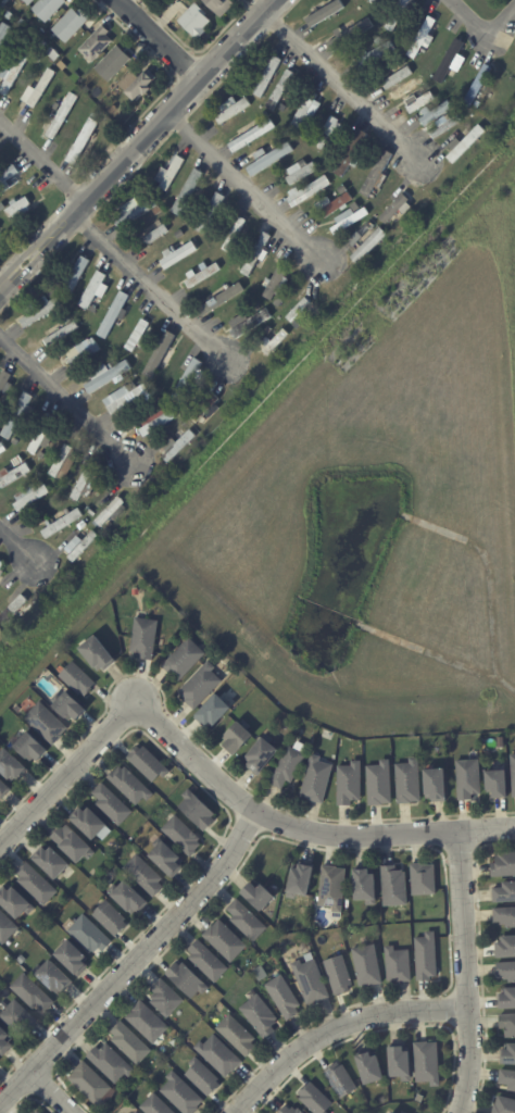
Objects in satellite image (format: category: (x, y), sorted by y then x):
building: (5, 1)
building: (29, 1)
building: (328, 1)
building: (380, 2)
building: (221, 5)
building: (48, 8)
building: (326, 13)
building: (402, 13)
building: (1, 16)
road: (466, 20)
building: (194, 21)
building: (23, 22)
building: (71, 25)
road: (501, 25)
building: (3, 32)
building: (351, 35)
building: (423, 37)
road: (158, 39)
building: (45, 43)
building: (17, 45)
building: (97, 45)
building: (53, 54)
building: (375, 55)
building: (450, 58)
building: (113, 63)
building: (14, 73)
building: (267, 75)
building: (399, 75)
building: (257, 79)
building: (95, 80)
building: (139, 85)
road: (342, 85)
building: (478, 86)
building: (38, 89)
building: (281, 91)
building: (407, 91)
building: (114, 98)
building: (419, 102)
building: (101, 104)
building: (442, 109)
building: (230, 110)
building: (302, 113)
building: (61, 116)
building: (445, 127)
building: (329, 132)
building: (254, 134)
building: (84, 142)
road: (136, 142)
building: (279, 143)
building: (467, 143)
building: (351, 154)
building: (269, 159)
road: (41, 160)
building: (301, 172)
building: (377, 173)
building: (8, 174)
building: (172, 174)
road: (247, 185)
building: (343, 190)
building: (189, 191)
building: (310, 192)
building: (378, 198)
building: (142, 199)
building: (334, 205)
building: (401, 205)
building: (18, 207)
building: (136, 212)
building: (211, 213)
building: (351, 222)
building: (129, 230)
building: (114, 232)
building: (156, 232)
building: (180, 235)
building: (235, 235)
building: (355, 239)
building: (369, 246)
building: (178, 254)
building: (256, 254)
building: (75, 275)
building: (201, 275)
building: (277, 285)
road: (149, 286)
building: (92, 289)
building: (51, 292)
building: (222, 299)
building: (40, 309)
building: (299, 309)
building: (114, 315)
building: (121, 322)
building: (250, 323)
building: (297, 327)
building: (269, 330)
building: (63, 333)
building: (140, 335)
building: (274, 343)
building: (83, 353)
building: (164, 353)
building: (112, 363)
building: (108, 373)
building: (129, 373)
building: (188, 378)
building: (4, 379)
building: (130, 392)
road: (63, 398)
building: (208, 407)
building: (17, 414)
building: (156, 420)
building: (184, 421)
building: (45, 432)
building: (15, 440)
building: (177, 445)
building: (2, 447)
building: (17, 460)
building: (61, 460)
building: (13, 474)
building: (63, 475)
building: (39, 483)
building: (85, 485)
building: (29, 495)
building: (111, 511)
building: (64, 522)
building: (81, 545)
road: (18, 549)
building: (1, 564)
building: (1, 571)
building: (13, 609)
building: (145, 634)
building: (100, 652)
building: (184, 656)
building: (78, 676)
building: (201, 683)
building: (68, 704)
building: (212, 710)
building: (47, 721)
building: (304, 724)
building: (237, 735)
building: (33, 746)
building: (262, 752)
building: (148, 761)
building: (12, 764)
building: (289, 765)
building: (514, 766)
building: (469, 776)
building: (317, 777)
road: (217, 779)
building: (410, 779)
building: (350, 780)
building: (380, 781)
building: (437, 781)
building: (498, 783)
building: (130, 784)
building: (3, 787)
building: (112, 802)
building: (199, 810)
building: (89, 821)
building: (183, 833)
building: (133, 837)
building: (74, 842)
building: (168, 858)
building: (51, 861)
building: (504, 863)
building: (145, 873)
building: (424, 877)
building: (299, 879)
building: (37, 881)
building: (395, 884)
building: (78, 885)
building: (364, 885)
building: (331, 886)
building: (505, 890)
building: (257, 892)
building: (130, 897)
building: (15, 899)
building: (506, 914)
building: (111, 916)
building: (247, 918)
building: (7, 926)
building: (90, 933)
building: (226, 938)
building: (0, 946)
building: (506, 946)
building: (427, 954)
building: (73, 955)
building: (10, 958)
building: (208, 959)
road: (134, 960)
building: (368, 963)
building: (399, 963)
building: (507, 967)
building: (262, 972)
building: (339, 972)
road: (465, 972)
building: (53, 973)
building: (186, 976)
building: (311, 977)
building: (33, 991)
building: (285, 996)
building: (166, 997)
building: (506, 997)
building: (261, 1014)
building: (18, 1015)
building: (148, 1021)
building: (508, 1022)
road: (337, 1027)
building: (238, 1034)
building: (4, 1039)
building: (130, 1041)
building: (219, 1053)
building: (507, 1053)
building: (111, 1061)
building: (428, 1061)
building: (402, 1062)
building: (372, 1066)
building: (203, 1075)
building: (508, 1076)
building: (341, 1078)
building: (91, 1081)
road: (51, 1092)
building: (183, 1092)
building: (316, 1098)
building: (156, 1104)
building: (505, 1104)
building: (291, 1110)
building: (36, 1111)
building: (394, 1111)
building: (39, 1112)
building: (135, 1112)
building: (138, 1112)
building: (391, 1112)

